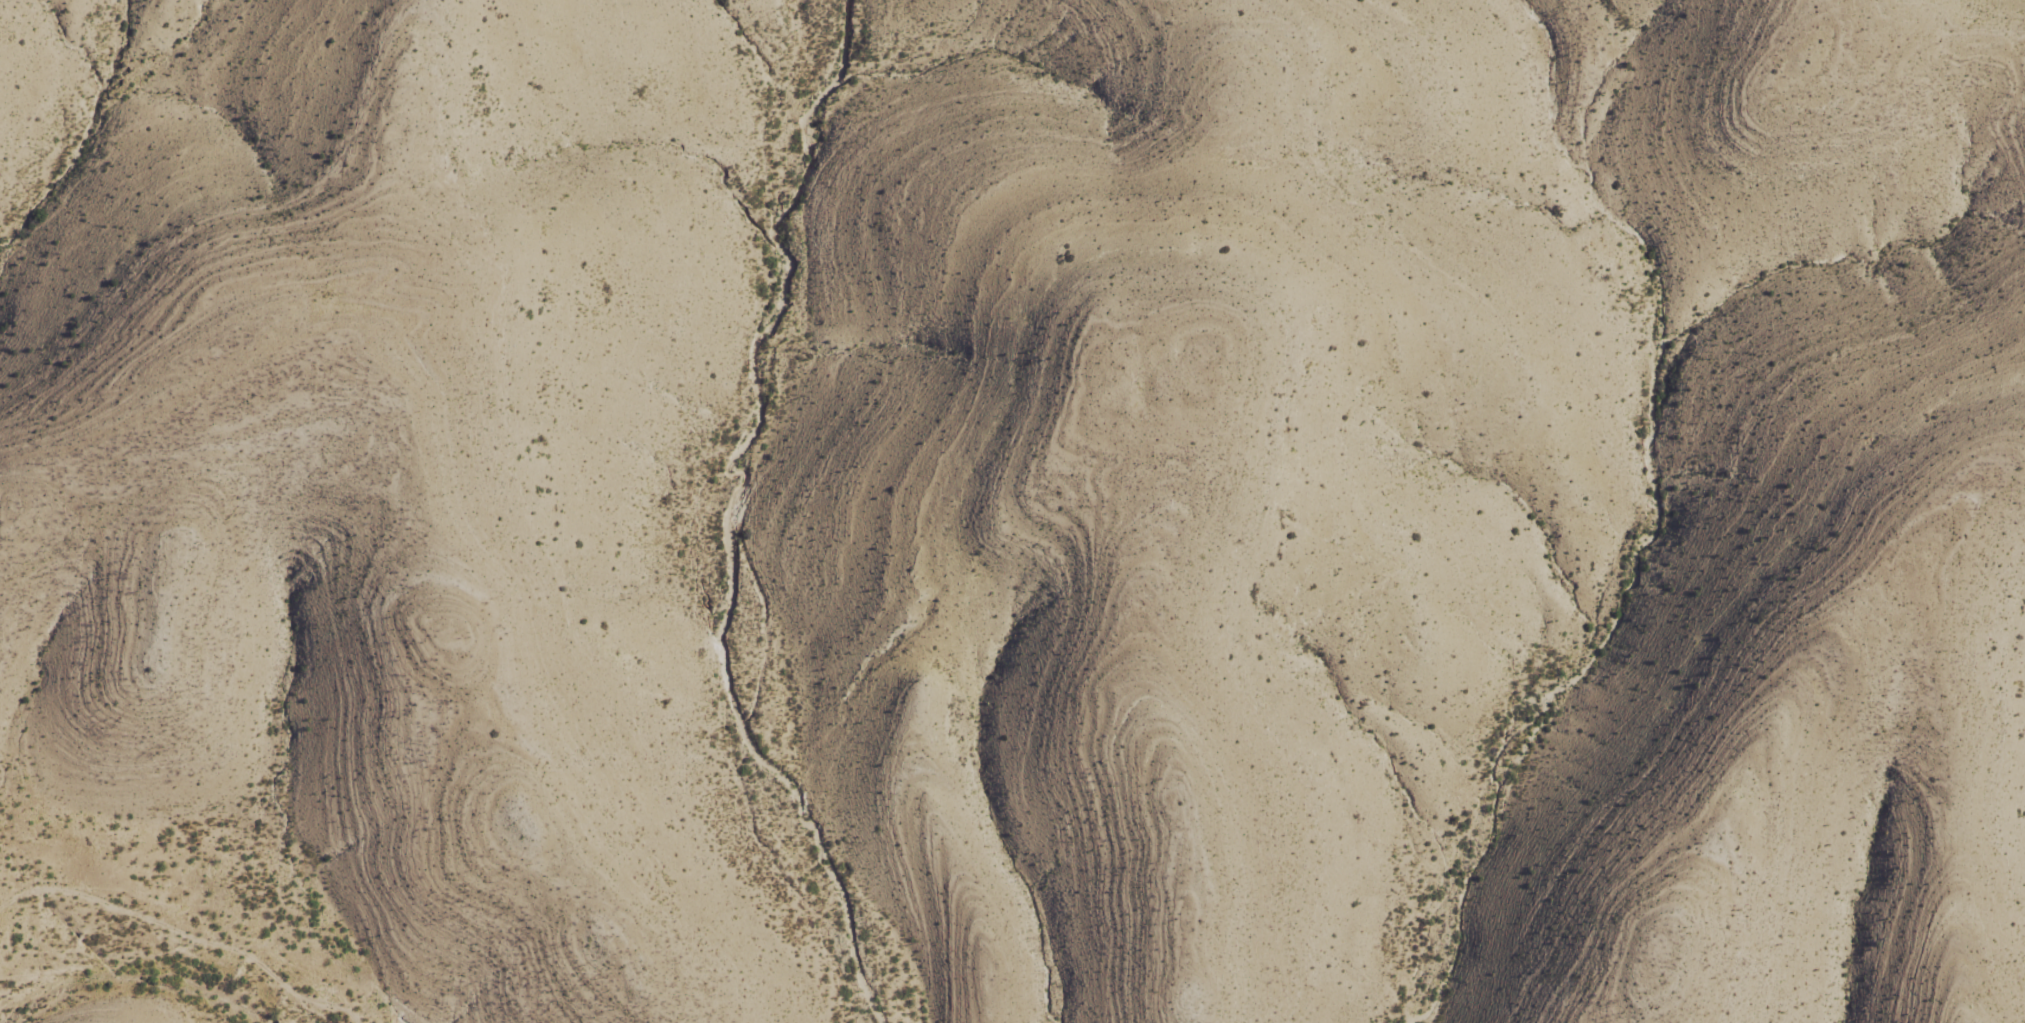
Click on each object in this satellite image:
road: (203, 941)

